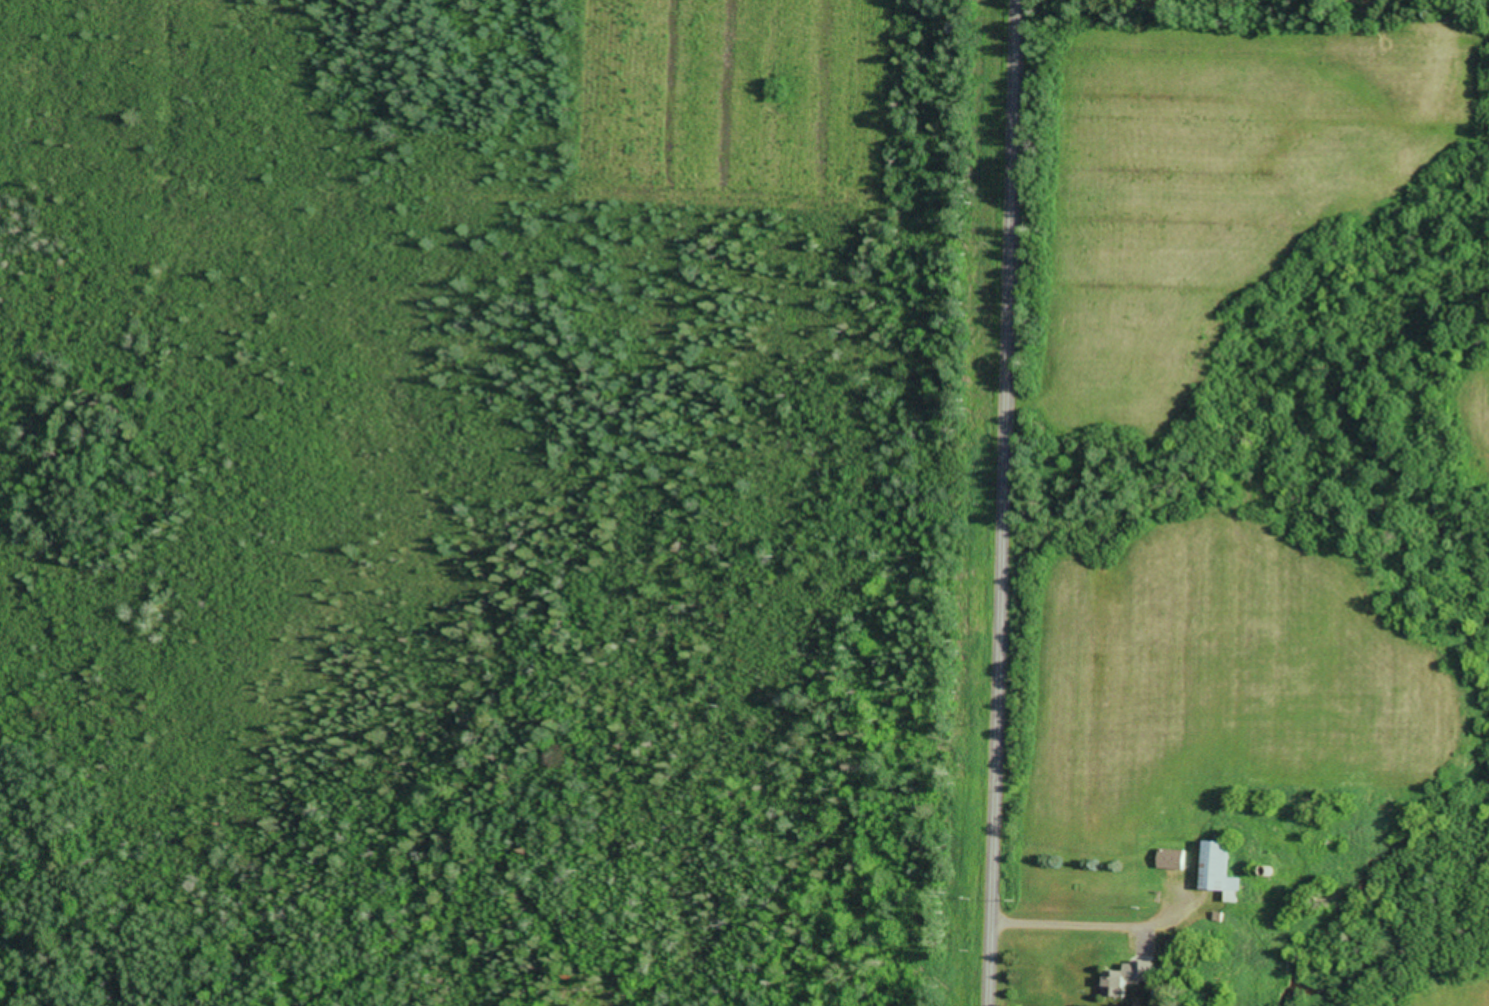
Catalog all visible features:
road: (1005, 502)
building: (1169, 862)
building: (1215, 874)
building: (1123, 980)

